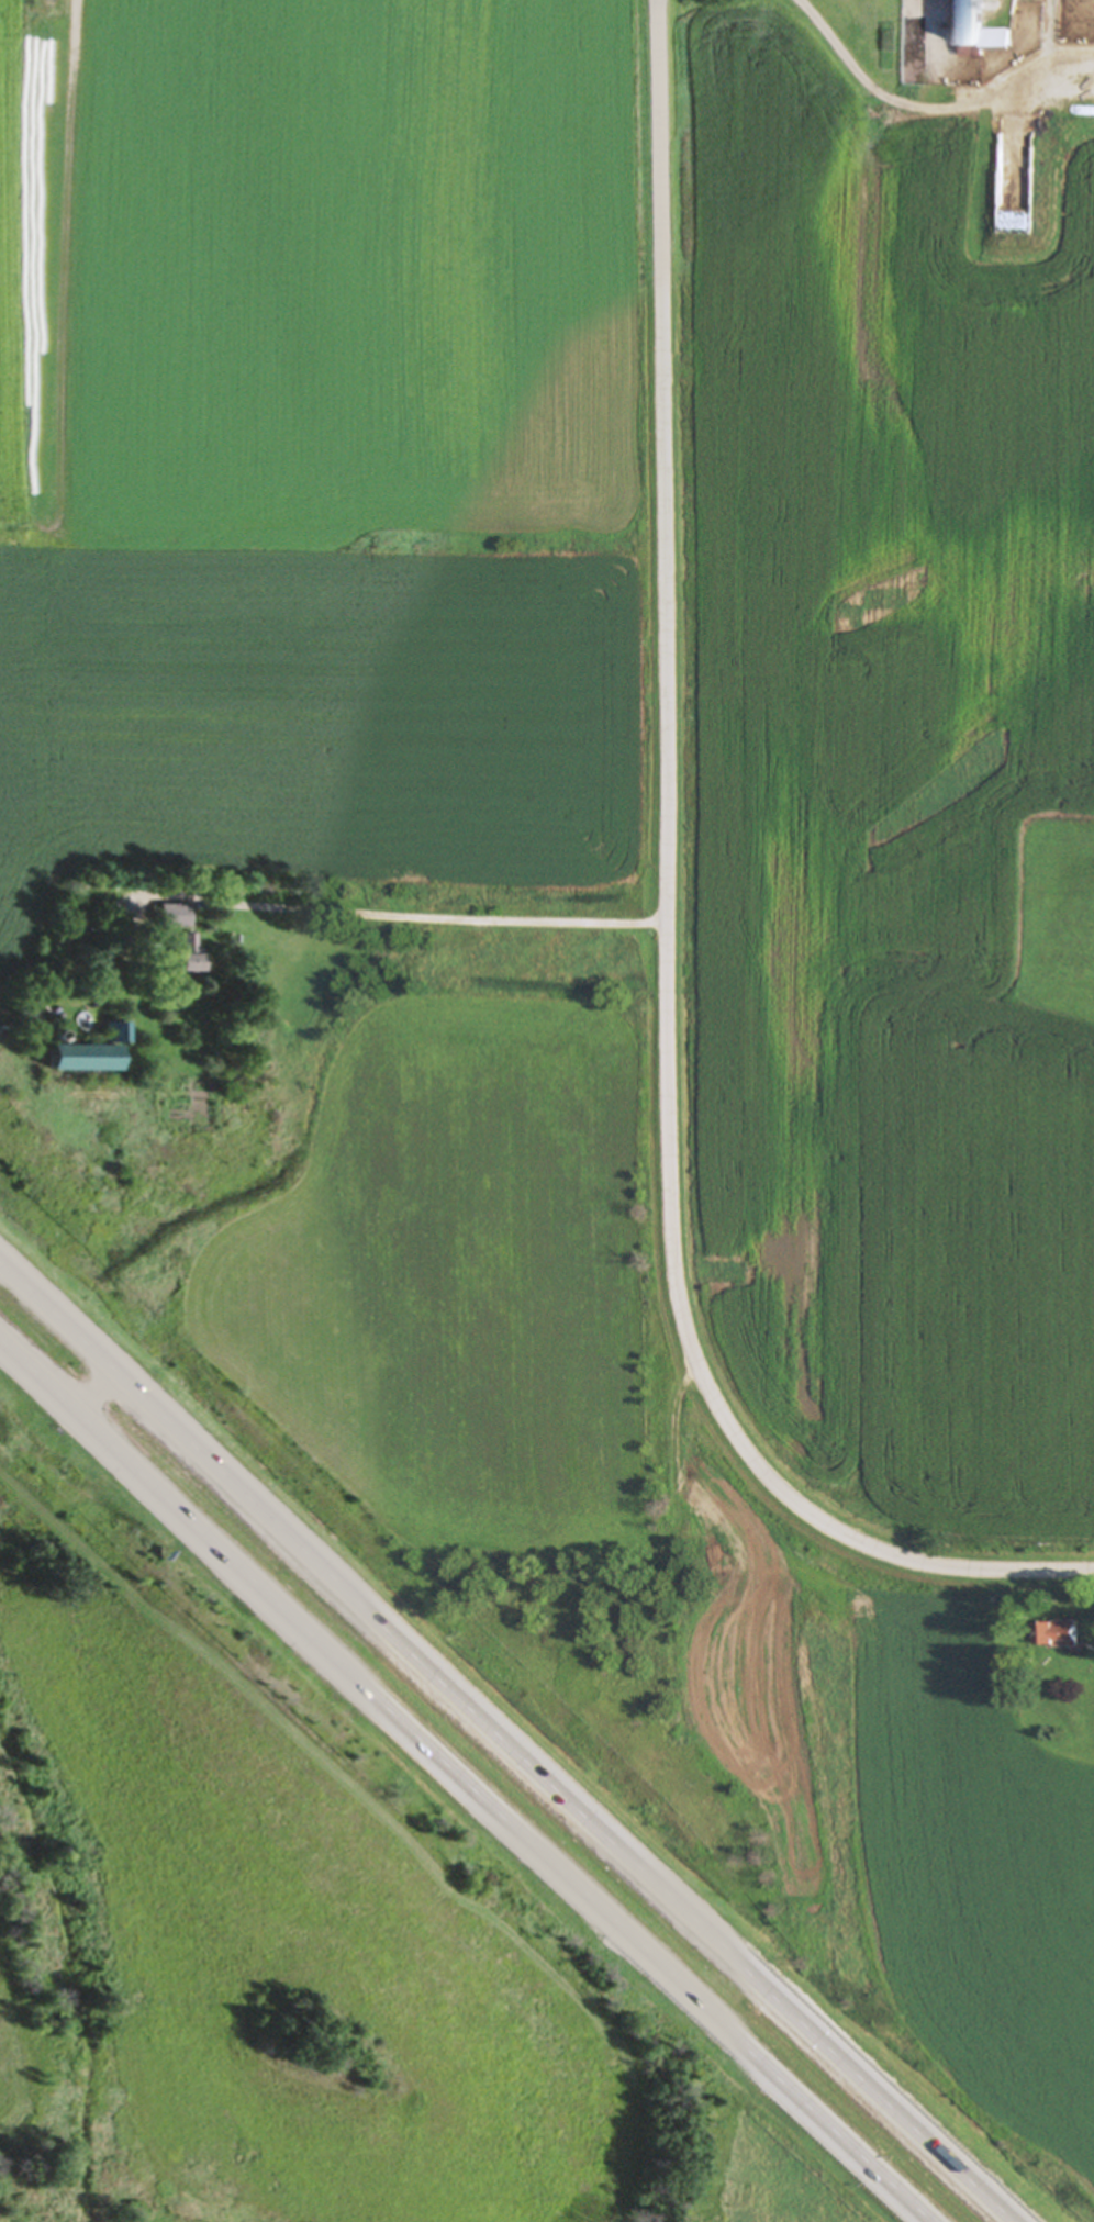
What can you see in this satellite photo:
building: (968, 23)
road: (851, 72)
building: (92, 901)
road: (424, 917)
road: (672, 925)
building: (189, 951)
building: (114, 1034)
building: (81, 1059)
road: (96, 1393)
building: (1058, 1635)
building: (1089, 1728)
road: (507, 1743)
road: (467, 1782)

